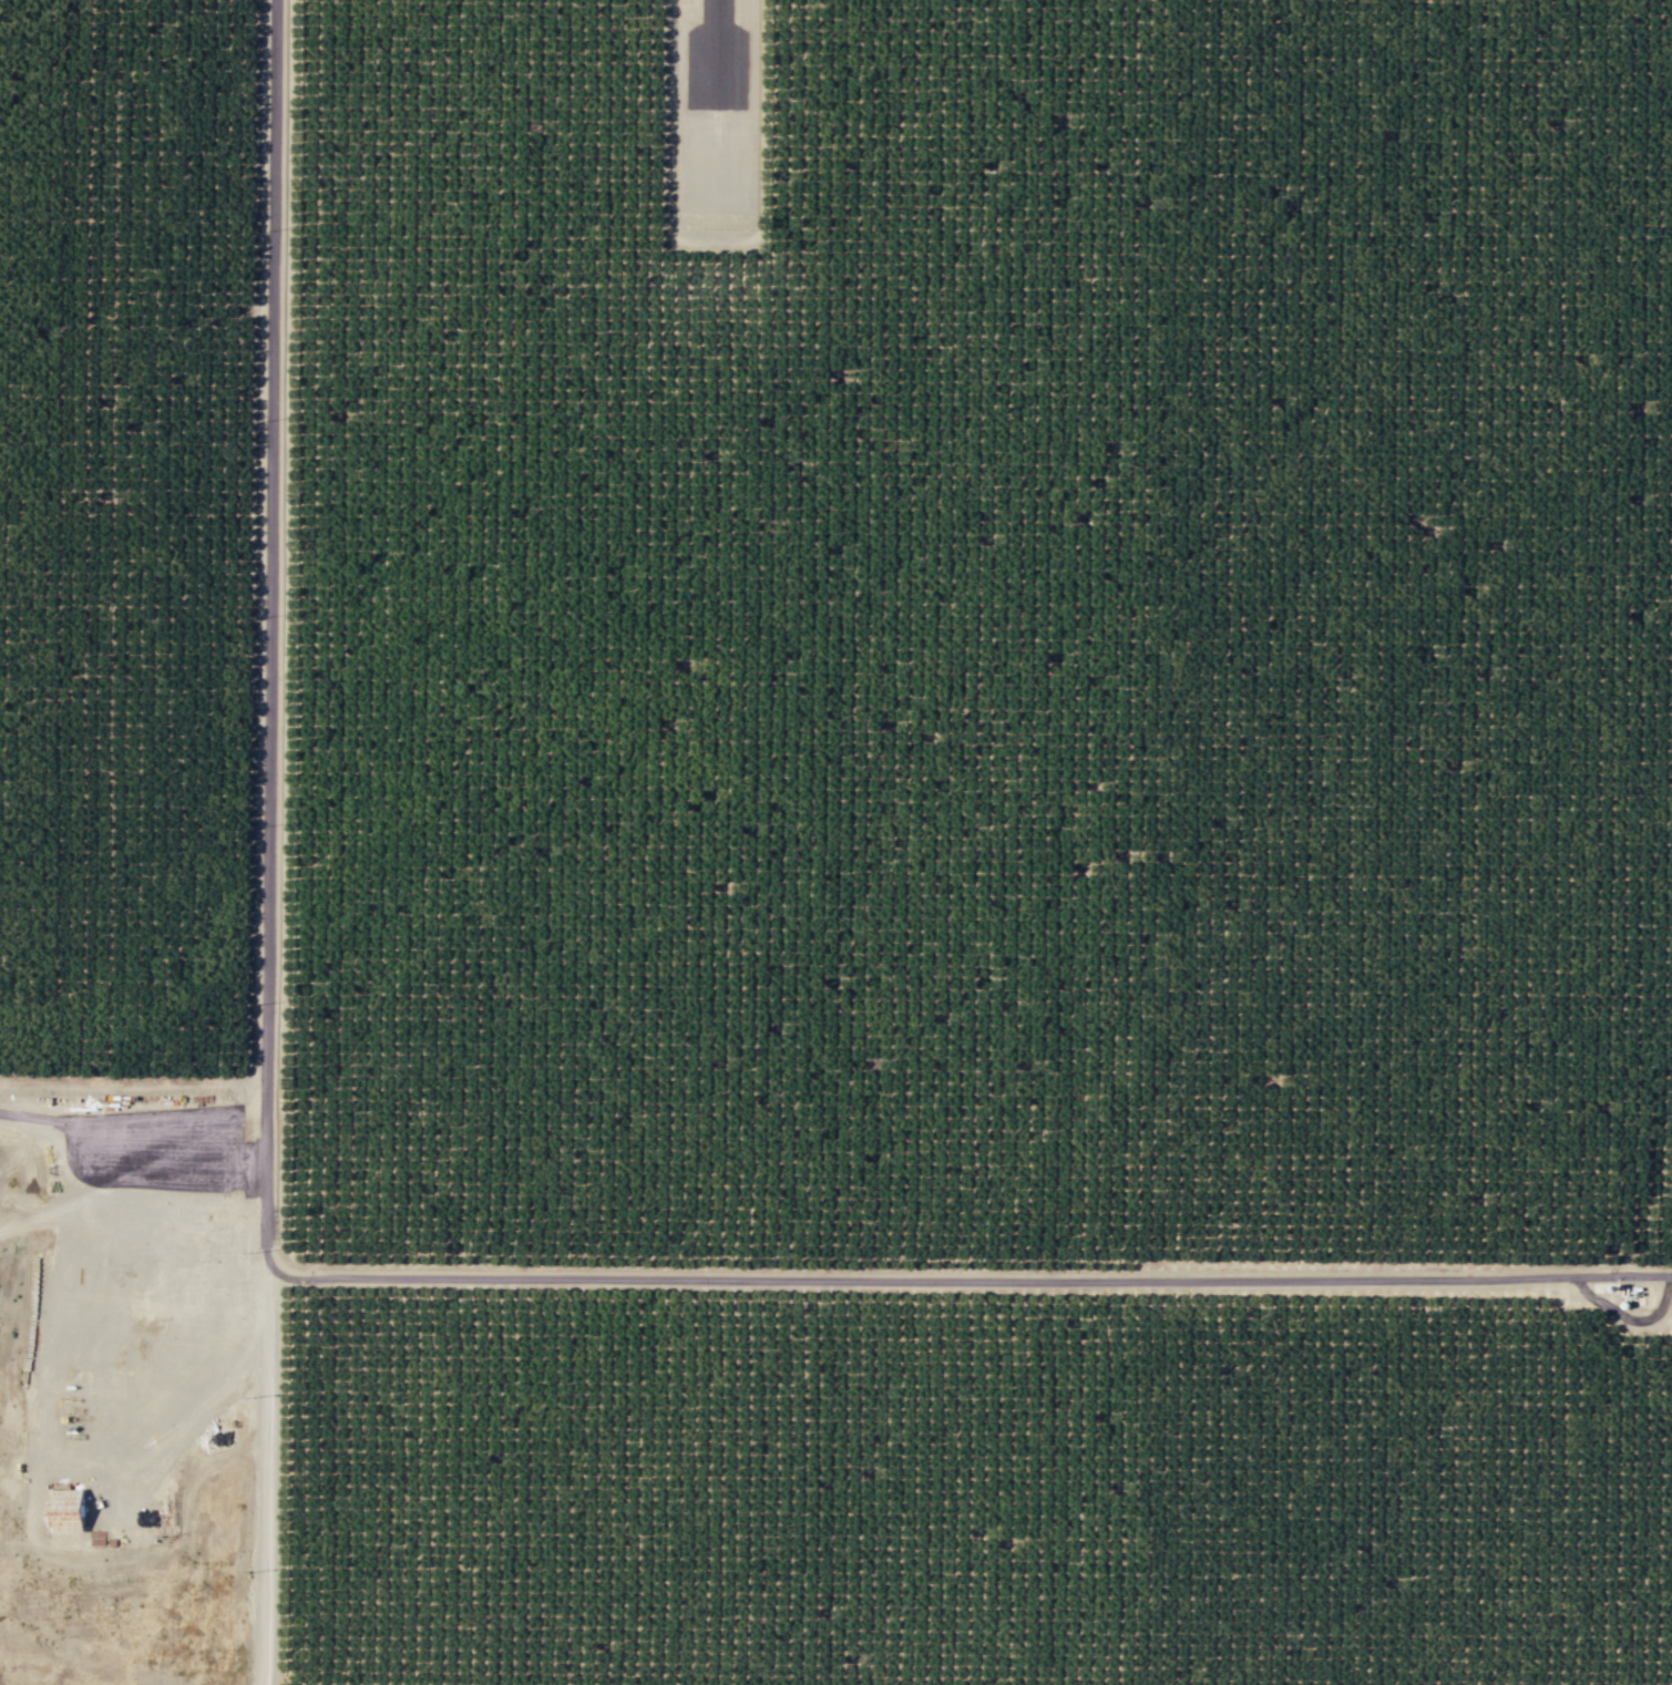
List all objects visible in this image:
airport runway: (715, 39)
airport: (714, 113)
road: (758, 162)
road: (269, 540)
road: (132, 1087)
road: (145, 1153)
road: (141, 1169)
road: (881, 1276)
road: (265, 1465)

